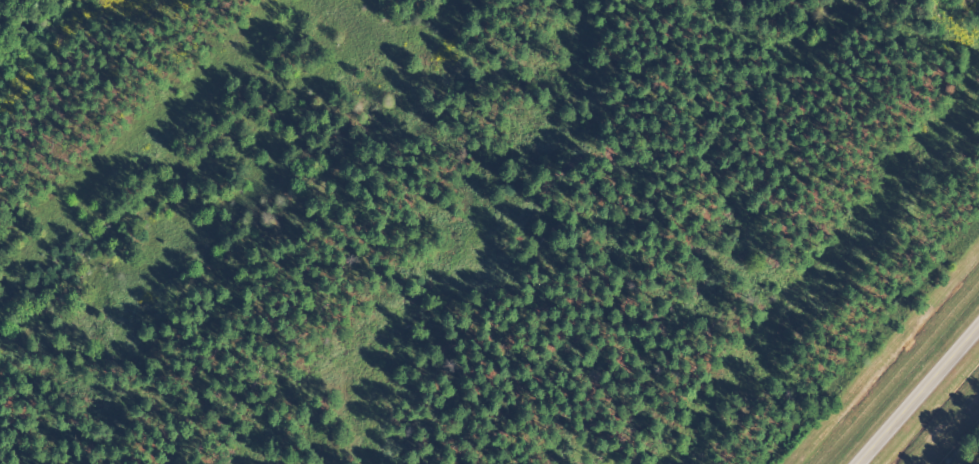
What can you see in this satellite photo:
road: (917, 393)

